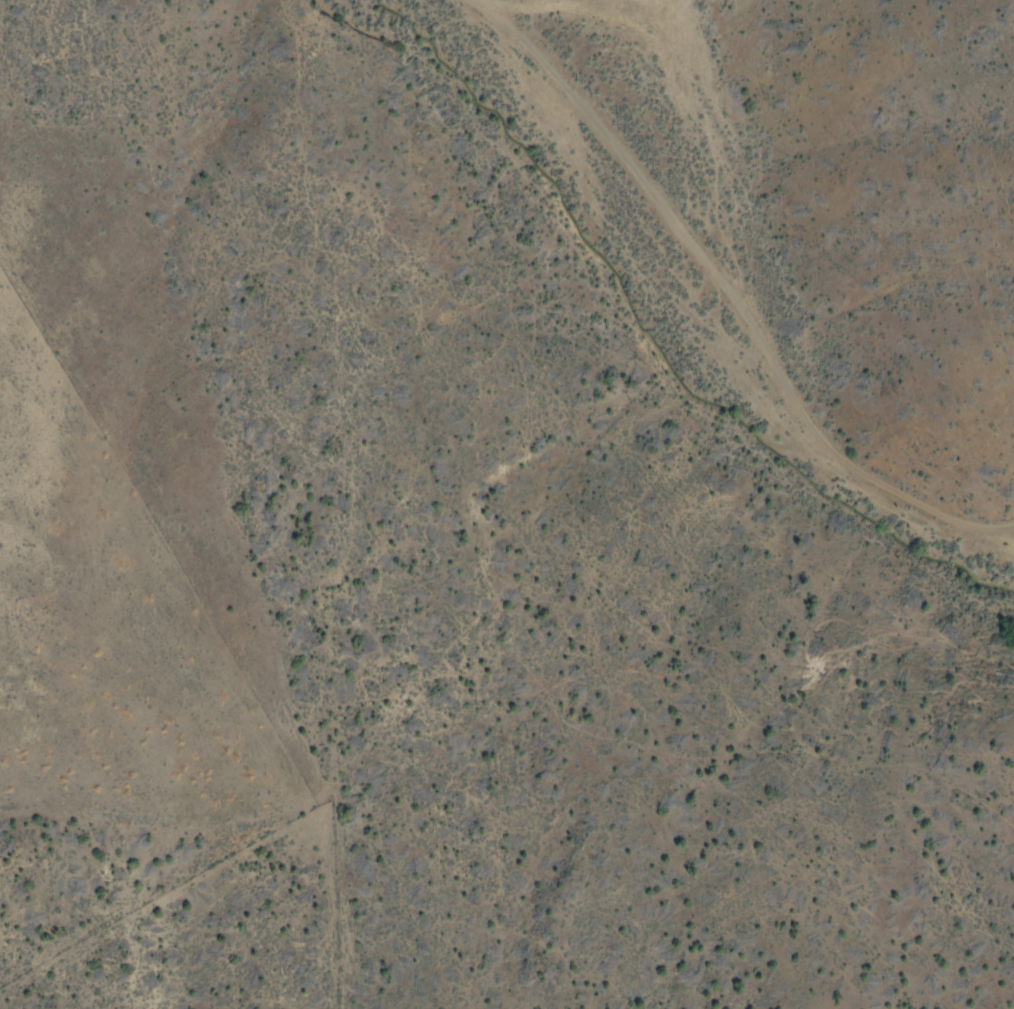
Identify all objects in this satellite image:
road: (744, 321)
road: (998, 545)

